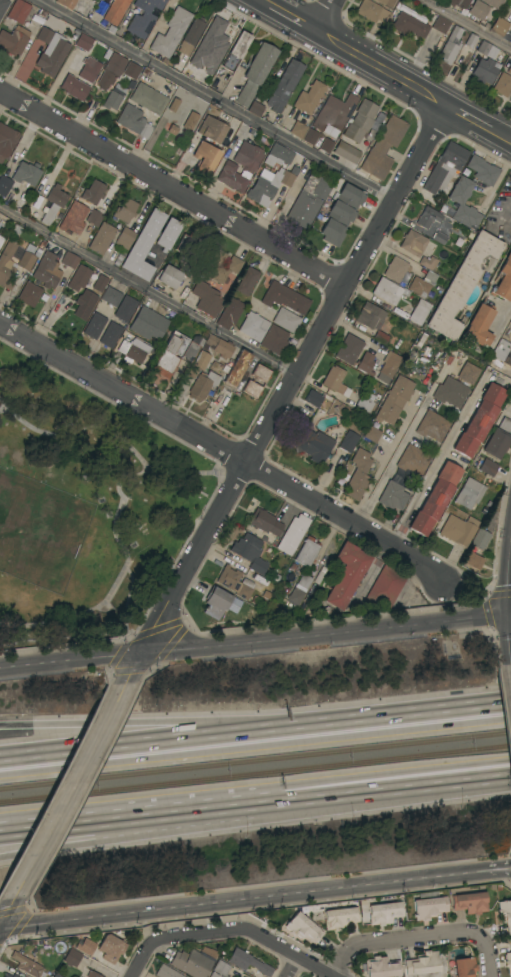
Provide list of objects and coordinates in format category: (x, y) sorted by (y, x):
building: (385, 2)
building: (66, 3)
road: (264, 3)
building: (457, 3)
building: (494, 3)
building: (3, 5)
building: (478, 10)
building: (18, 11)
building: (115, 11)
building: (371, 11)
road: (324, 15)
building: (143, 17)
road: (292, 18)
road: (470, 22)
building: (407, 25)
building: (440, 25)
building: (499, 25)
building: (44, 33)
building: (170, 33)
building: (510, 34)
building: (190, 37)
building: (13, 41)
building: (472, 41)
building: (83, 42)
building: (450, 46)
building: (210, 47)
building: (235, 51)
building: (489, 51)
building: (52, 56)
building: (114, 65)
building: (89, 69)
building: (135, 69)
road: (382, 69)
building: (509, 70)
building: (485, 71)
building: (255, 73)
building: (502, 85)
building: (284, 86)
building: (74, 87)
building: (509, 92)
building: (114, 97)
building: (510, 97)
building: (148, 98)
building: (309, 98)
road: (218, 100)
building: (255, 109)
building: (333, 112)
road: (468, 119)
building: (133, 121)
building: (189, 122)
building: (212, 129)
building: (298, 129)
building: (356, 132)
road: (499, 136)
building: (309, 137)
building: (7, 140)
building: (326, 146)
building: (383, 148)
building: (278, 155)
building: (205, 158)
building: (248, 168)
building: (444, 168)
building: (482, 170)
building: (26, 174)
building: (4, 185)
road: (174, 185)
building: (267, 185)
building: (90, 193)
building: (308, 200)
building: (458, 201)
building: (20, 203)
building: (53, 204)
building: (124, 210)
building: (340, 214)
building: (92, 216)
building: (427, 217)
road: (503, 218)
building: (62, 227)
building: (167, 234)
building: (101, 238)
building: (439, 238)
building: (1, 240)
building: (412, 243)
building: (139, 245)
building: (185, 245)
building: (69, 260)
building: (428, 263)
building: (24, 265)
building: (219, 267)
building: (396, 269)
building: (47, 270)
building: (168, 277)
building: (79, 278)
building: (503, 279)
building: (246, 281)
building: (422, 284)
building: (462, 285)
road: (149, 290)
building: (388, 291)
building: (85, 292)
building: (29, 294)
building: (111, 297)
building: (284, 298)
building: (206, 299)
building: (125, 308)
building: (419, 312)
building: (229, 313)
building: (370, 316)
building: (286, 320)
building: (148, 323)
building: (479, 325)
building: (94, 326)
building: (253, 326)
road: (503, 327)
building: (110, 335)
building: (380, 337)
building: (274, 340)
building: (218, 346)
building: (192, 348)
building: (135, 352)
building: (502, 352)
building: (354, 354)
building: (169, 355)
building: (198, 364)
building: (388, 366)
building: (235, 368)
building: (260, 373)
building: (468, 373)
building: (335, 381)
building: (202, 385)
building: (251, 389)
building: (450, 392)
road: (286, 394)
building: (312, 398)
building: (394, 400)
building: (365, 404)
building: (479, 420)
building: (432, 426)
building: (371, 434)
building: (498, 439)
building: (348, 441)
building: (314, 446)
road: (399, 448)
road: (223, 449)
building: (413, 461)
road: (436, 462)
road: (381, 464)
building: (488, 468)
building: (358, 474)
building: (469, 493)
building: (392, 496)
building: (435, 499)
park: (83, 510)
building: (265, 523)
building: (458, 530)
building: (292, 534)
building: (480, 539)
building: (250, 552)
building: (306, 552)
building: (473, 561)
building: (346, 575)
building: (304, 581)
building: (234, 582)
building: (385, 586)
road: (476, 592)
building: (295, 596)
building: (220, 603)
building: (247, 614)
road: (255, 642)
road: (387, 717)
road: (132, 722)
road: (132, 743)
railway: (255, 760)
railway: (255, 774)
road: (427, 777)
road: (72, 792)
road: (172, 806)
road: (173, 826)
road: (493, 865)
road: (237, 899)
building: (469, 903)
building: (428, 906)
road: (7, 912)
building: (384, 912)
building: (505, 914)
building: (339, 918)
building: (302, 928)
road: (178, 935)
road: (420, 937)
building: (101, 946)
road: (290, 952)
building: (70, 956)
building: (508, 959)
building: (194, 961)
building: (247, 962)
building: (425, 964)
building: (27, 965)
road: (292, 966)
building: (381, 967)
building: (464, 967)
building: (221, 968)
building: (166, 972)
building: (92, 974)
building: (56, 975)
building: (214, 975)
building: (6, 976)
building: (13, 976)

